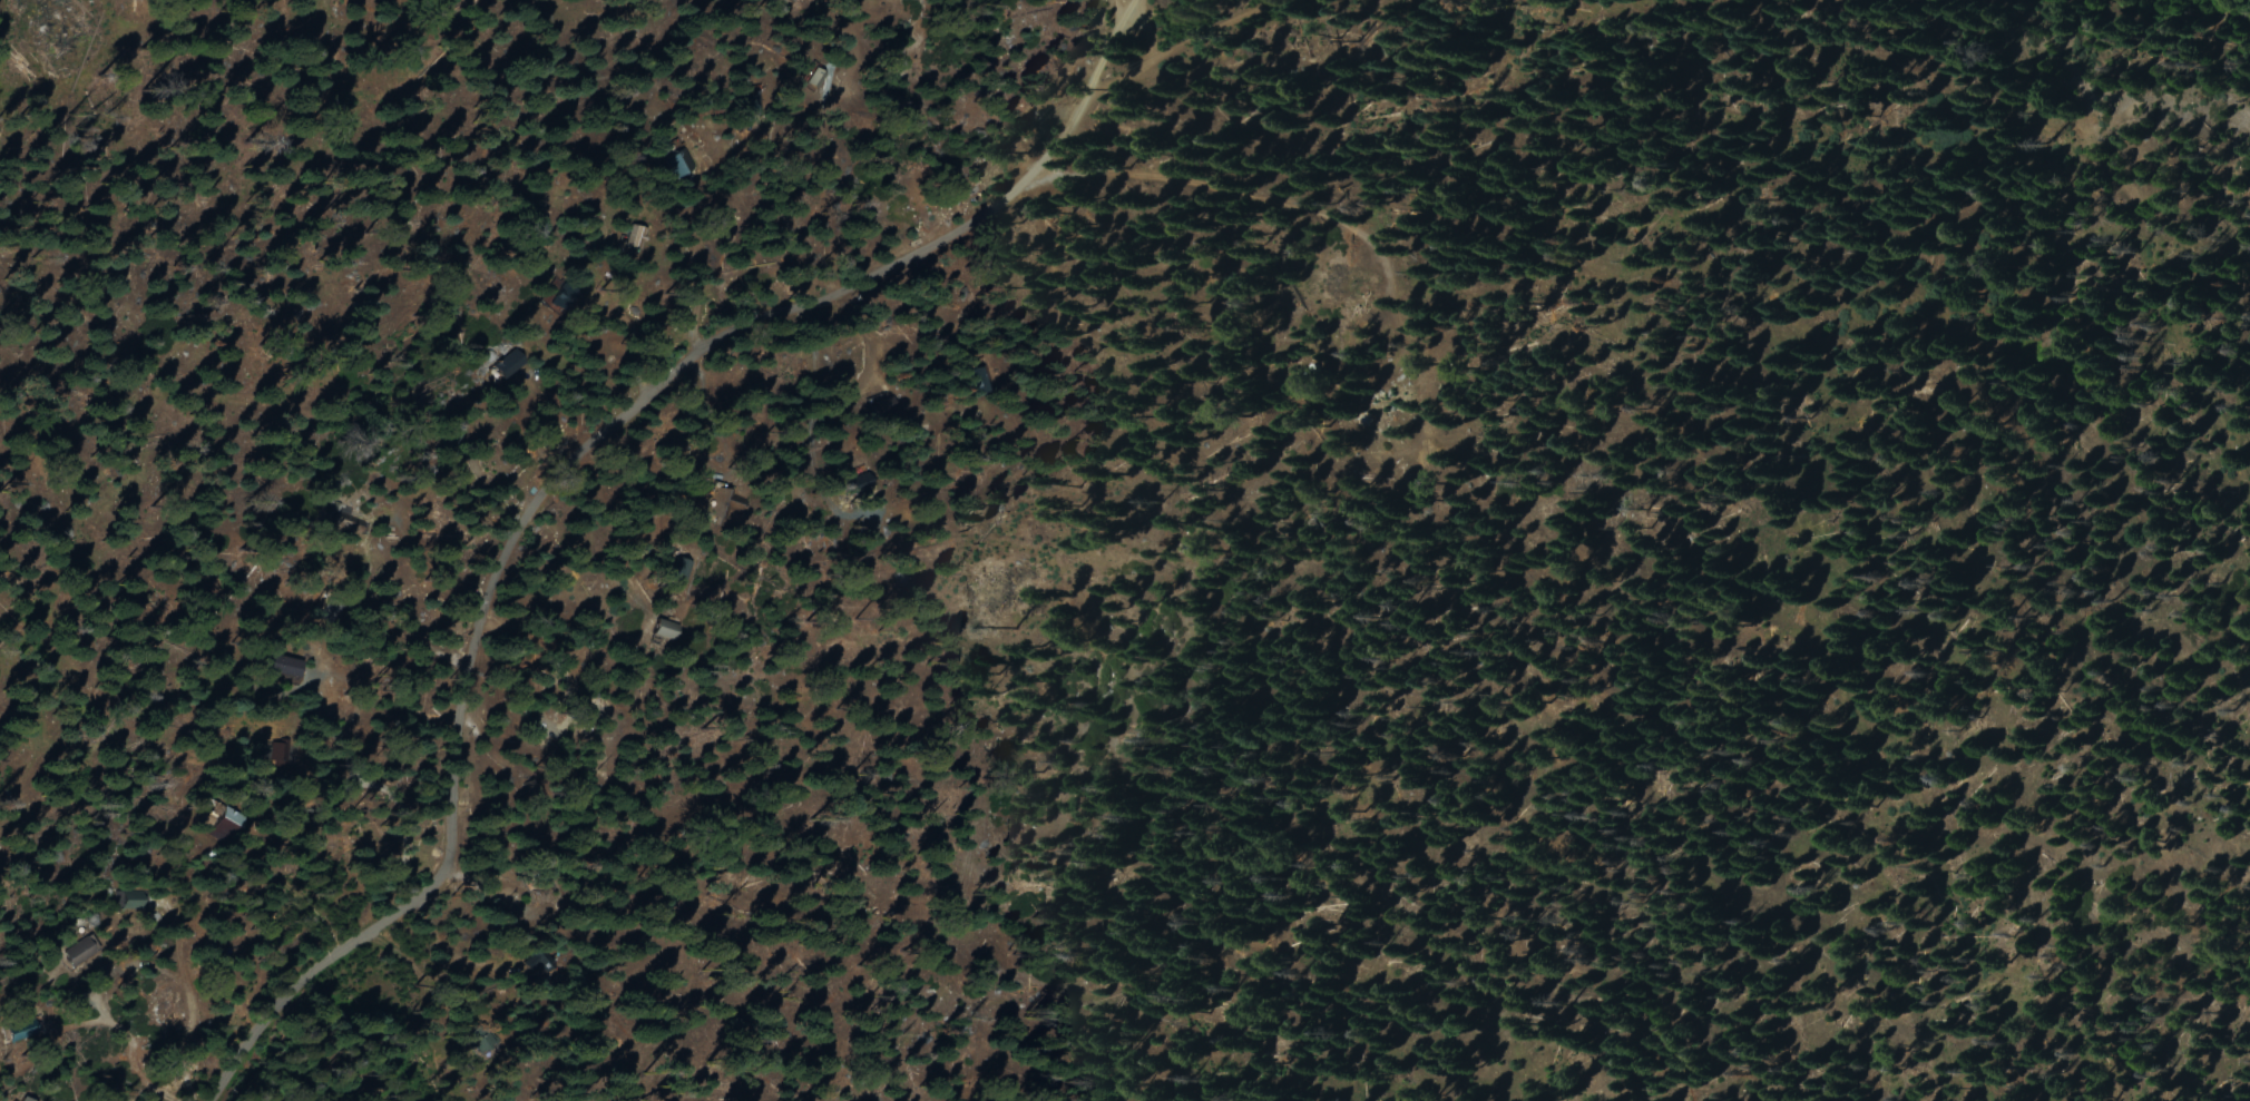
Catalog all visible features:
road: (565, 471)
building: (676, 571)
building: (277, 666)

